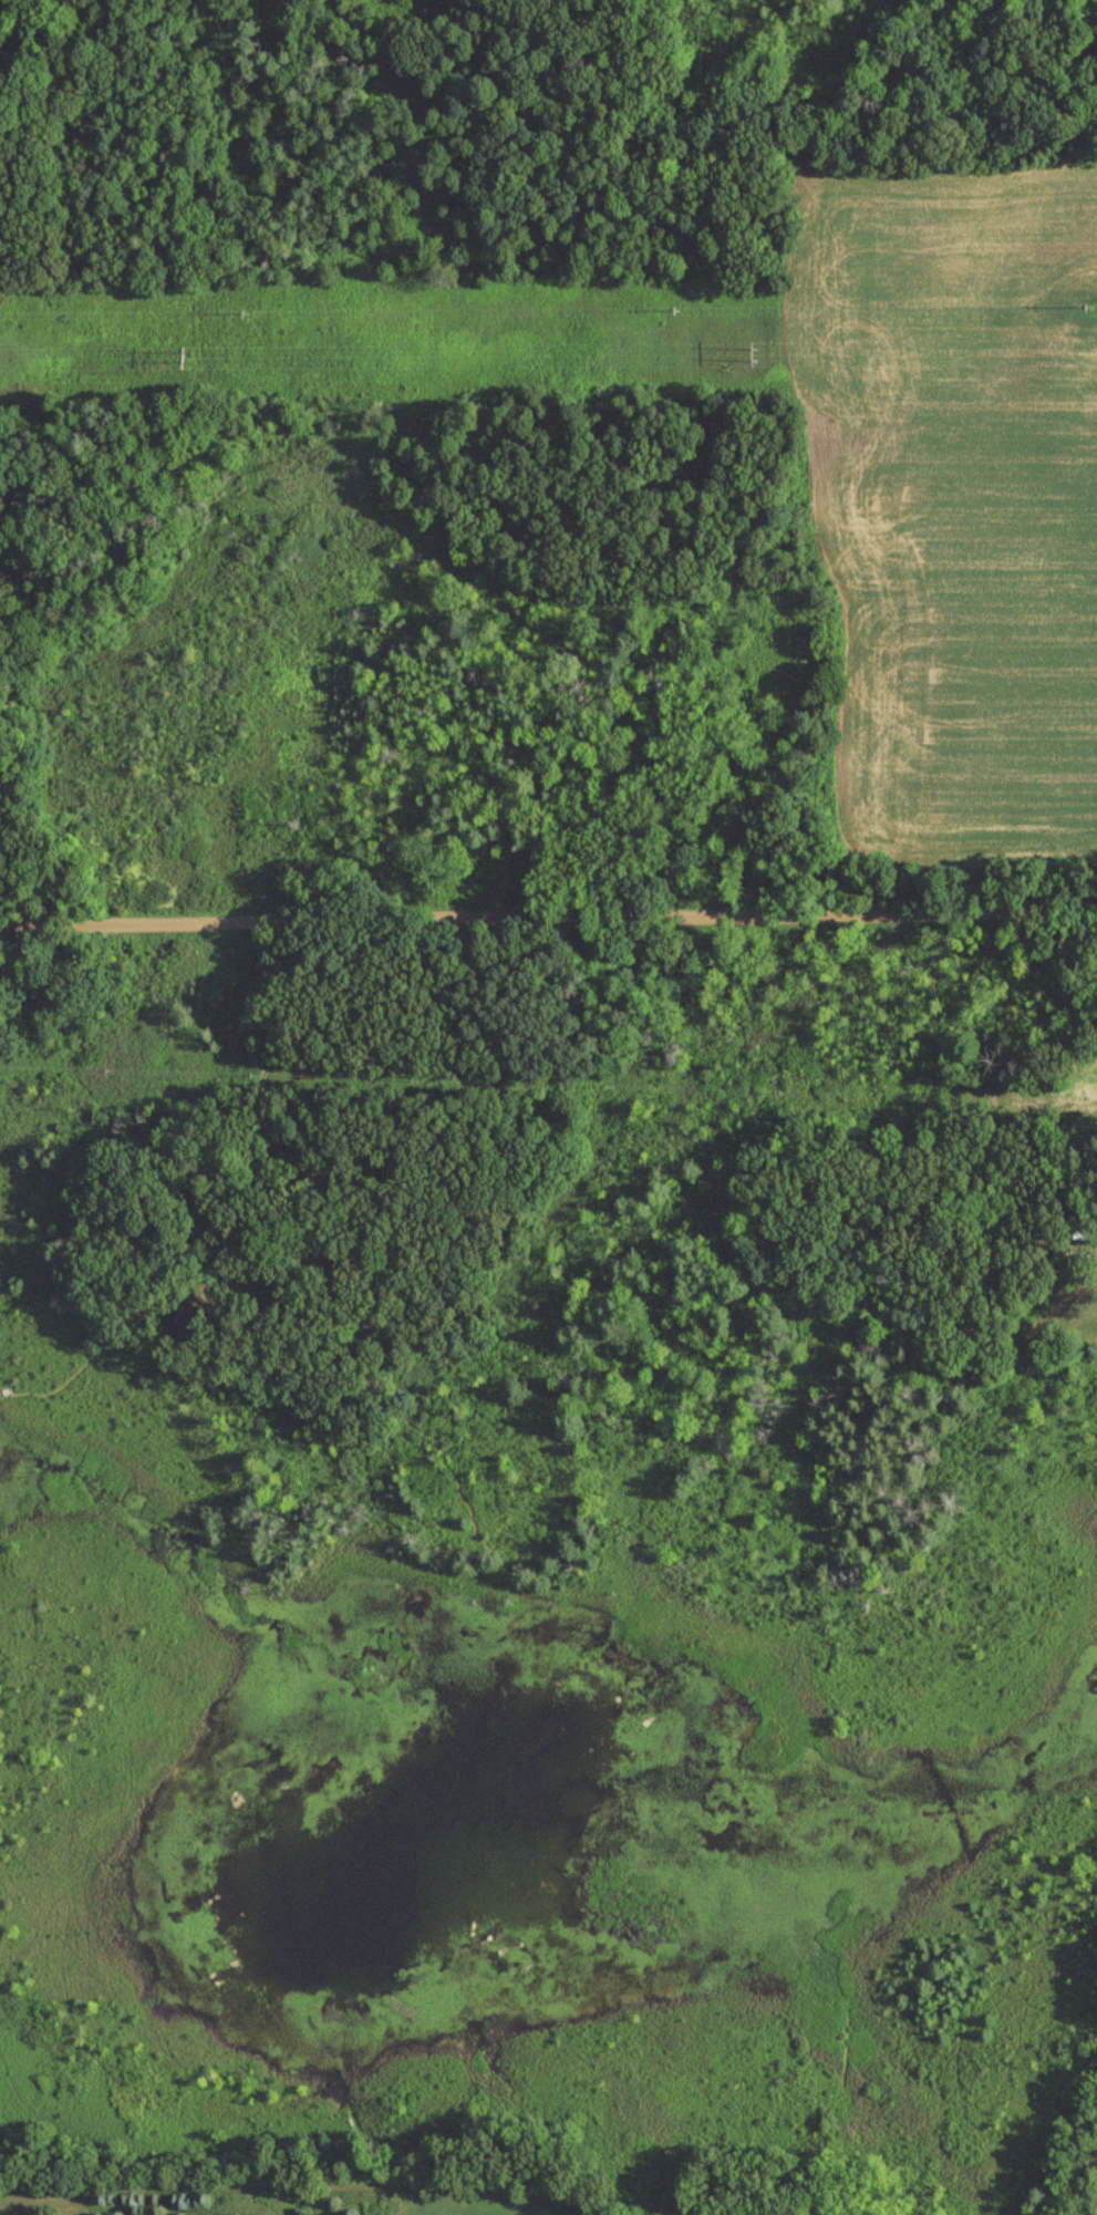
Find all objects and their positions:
road: (548, 922)

